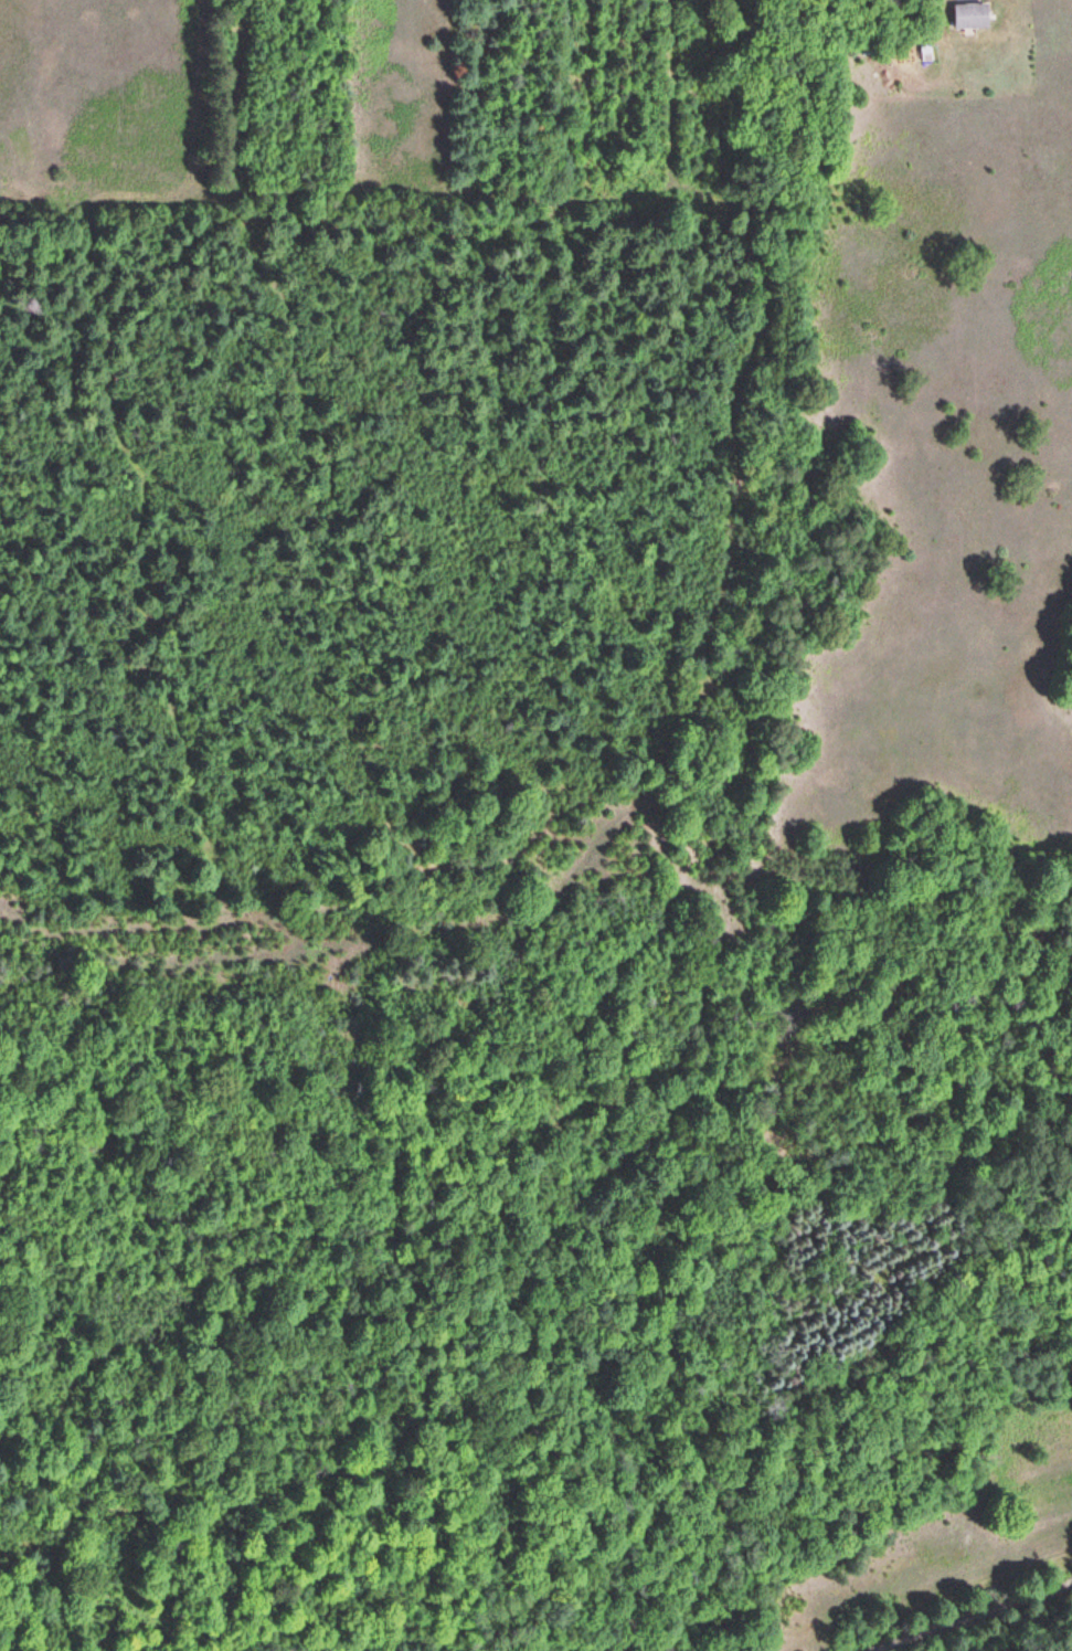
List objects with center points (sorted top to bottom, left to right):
building: (975, 17)
road: (967, 1620)

